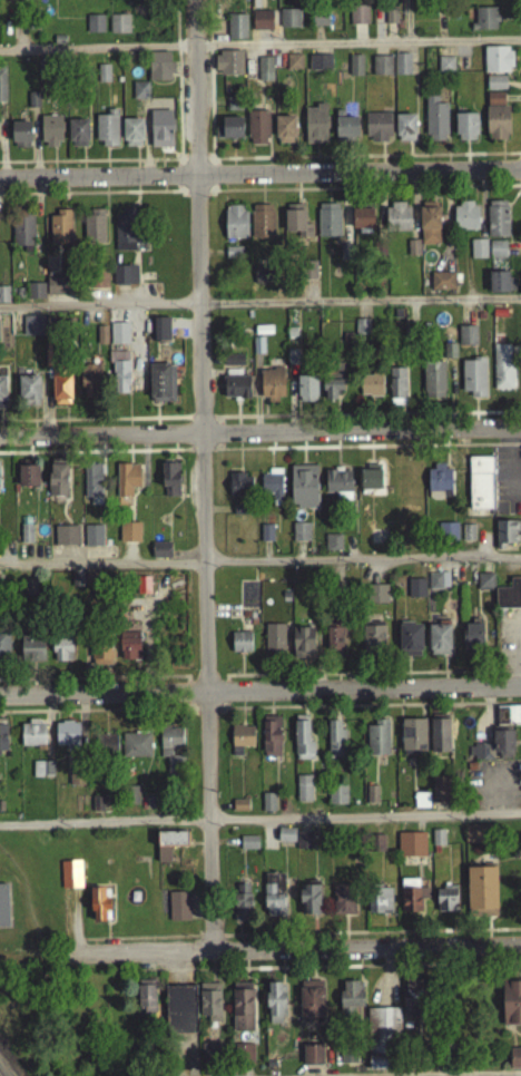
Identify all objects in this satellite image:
building: (8, 0)
building: (358, 20)
road: (409, 20)
building: (391, 21)
building: (289, 23)
building: (484, 23)
building: (262, 26)
building: (320, 26)
building: (95, 29)
building: (119, 29)
building: (236, 32)
road: (259, 45)
building: (497, 65)
building: (293, 67)
building: (228, 68)
building: (318, 68)
building: (402, 69)
building: (355, 70)
building: (381, 70)
building: (445, 70)
building: (159, 72)
building: (265, 74)
building: (102, 78)
building: (495, 88)
building: (2, 92)
building: (139, 96)
building: (494, 104)
building: (435, 125)
building: (497, 128)
building: (315, 130)
building: (377, 133)
building: (466, 133)
building: (106, 134)
building: (232, 134)
building: (257, 134)
building: (405, 134)
building: (50, 135)
building: (161, 135)
building: (284, 135)
building: (346, 135)
building: (20, 137)
building: (78, 138)
building: (132, 138)
road: (260, 174)
building: (397, 222)
building: (465, 222)
building: (362, 223)
building: (497, 224)
building: (328, 225)
building: (262, 226)
building: (296, 226)
building: (235, 227)
building: (429, 228)
building: (59, 233)
building: (94, 233)
building: (22, 235)
building: (126, 236)
building: (413, 254)
building: (478, 254)
building: (497, 255)
building: (344, 257)
building: (263, 280)
building: (125, 281)
building: (98, 284)
building: (442, 286)
building: (501, 287)
building: (58, 290)
building: (35, 296)
building: (3, 300)
road: (259, 309)
building: (32, 331)
building: (160, 334)
building: (118, 339)
building: (101, 341)
building: (466, 341)
building: (449, 356)
building: (233, 365)
building: (503, 371)
building: (119, 378)
building: (473, 382)
building: (433, 385)
building: (89, 387)
building: (161, 389)
building: (272, 390)
building: (371, 390)
building: (396, 392)
building: (61, 393)
building: (236, 393)
building: (306, 394)
building: (332, 394)
building: (28, 395)
building: (2, 398)
road: (259, 432)
road: (207, 477)
building: (28, 481)
building: (370, 482)
building: (126, 485)
building: (170, 485)
building: (58, 486)
building: (271, 488)
building: (439, 488)
building: (92, 489)
building: (338, 489)
building: (480, 489)
building: (239, 491)
building: (303, 491)
building: (239, 515)
building: (446, 535)
building: (508, 537)
building: (129, 538)
building: (266, 538)
building: (301, 538)
building: (26, 539)
building: (66, 541)
building: (92, 541)
building: (333, 548)
building: (160, 555)
road: (364, 565)
road: (104, 569)
building: (484, 586)
building: (434, 587)
building: (142, 590)
building: (415, 594)
building: (375, 599)
building: (509, 600)
building: (335, 642)
building: (274, 644)
building: (439, 644)
building: (473, 644)
building: (373, 645)
building: (410, 646)
building: (240, 648)
building: (302, 648)
building: (4, 651)
building: (129, 652)
building: (32, 654)
building: (61, 655)
road: (260, 694)
building: (508, 721)
building: (32, 738)
building: (67, 738)
building: (2, 740)
building: (413, 741)
building: (440, 741)
building: (271, 742)
building: (240, 744)
building: (335, 744)
building: (377, 744)
building: (302, 745)
building: (107, 750)
building: (136, 751)
building: (494, 753)
building: (165, 756)
building: (42, 774)
building: (76, 777)
building: (304, 794)
building: (440, 795)
building: (336, 799)
building: (372, 800)
building: (421, 805)
building: (267, 808)
road: (105, 822)
road: (365, 823)
building: (475, 839)
building: (296, 842)
building: (438, 843)
building: (248, 848)
building: (169, 850)
building: (411, 850)
building: (70, 880)
building: (482, 897)
building: (274, 900)
building: (413, 901)
building: (343, 904)
building: (446, 904)
building: (309, 906)
building: (380, 907)
building: (242, 908)
building: (98, 910)
building: (3, 911)
building: (178, 911)
road: (301, 951)
building: (147, 1002)
building: (351, 1004)
building: (412, 1005)
building: (311, 1006)
building: (210, 1007)
building: (276, 1008)
building: (511, 1008)
building: (243, 1013)
building: (179, 1015)
building: (383, 1036)
building: (208, 1058)
building: (243, 1059)
building: (312, 1060)
building: (347, 1062)
building: (514, 1064)
road: (383, 1073)
railway: (1, 1074)

